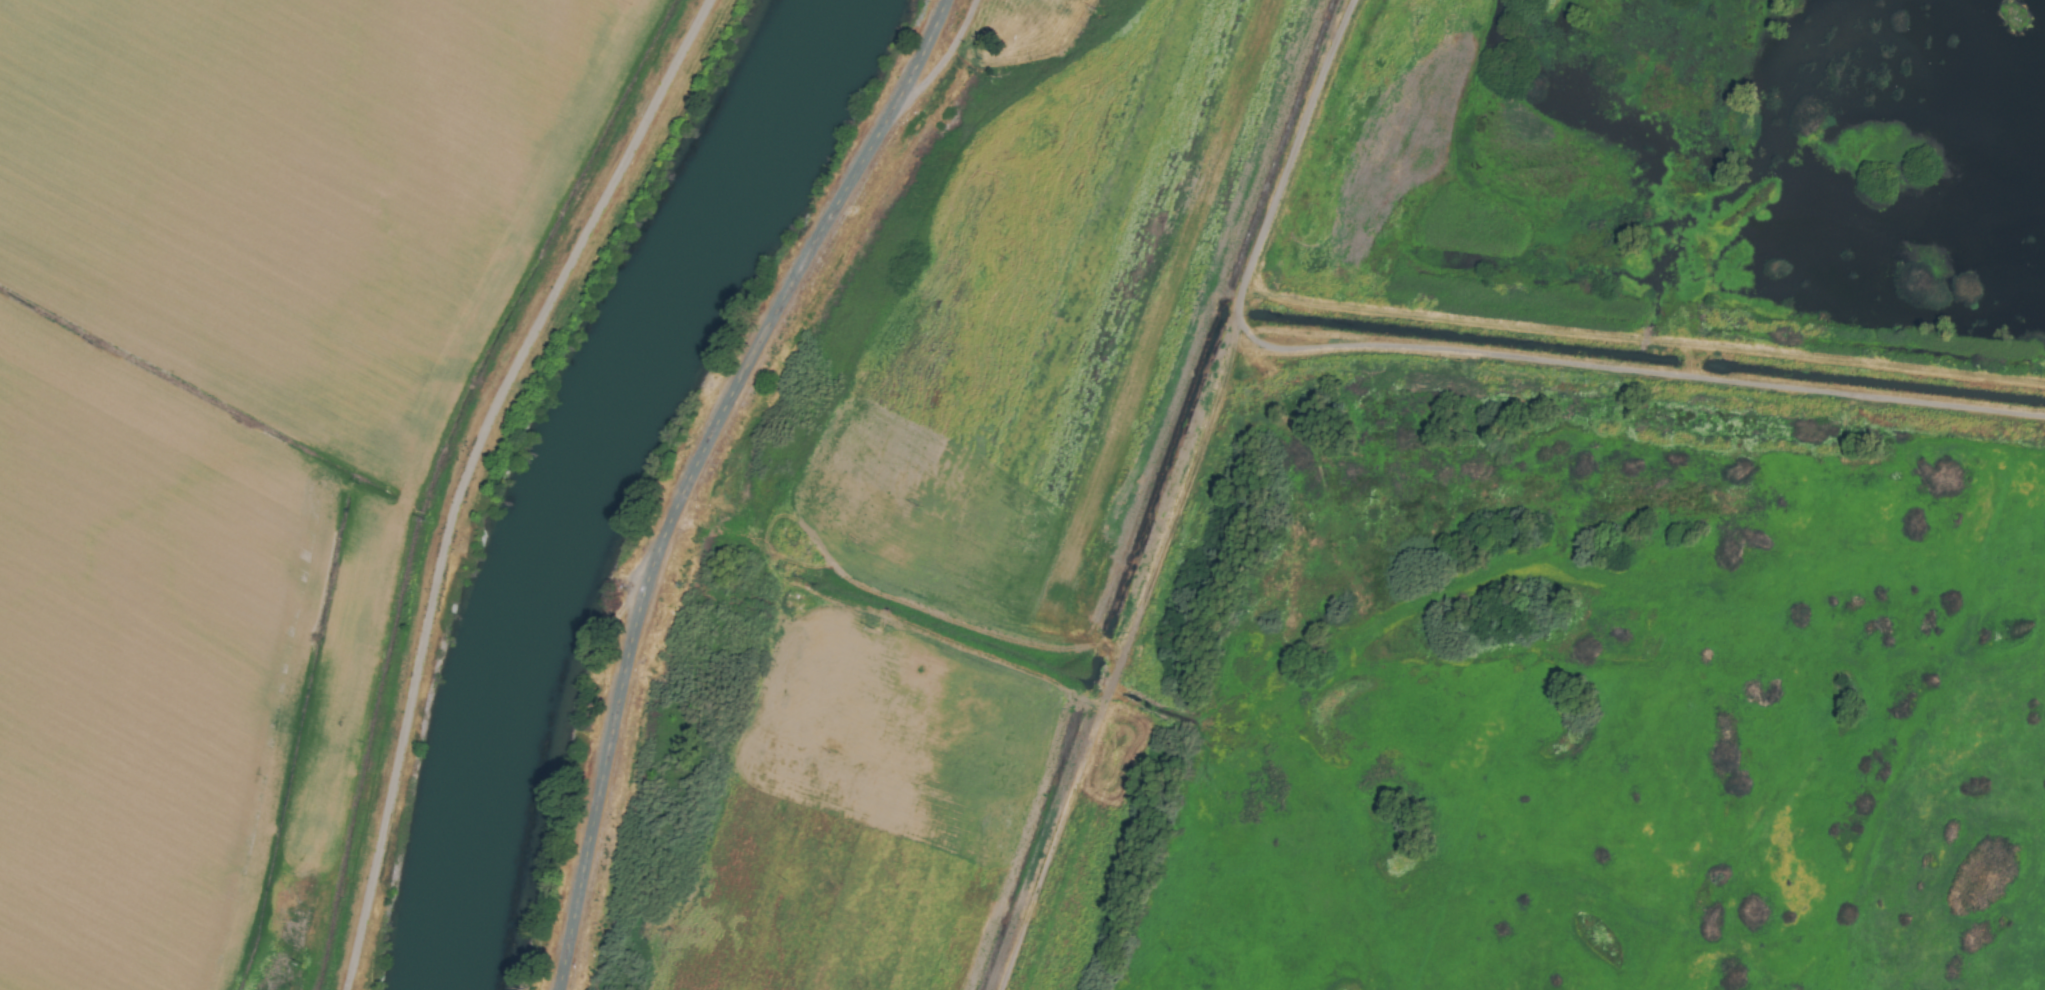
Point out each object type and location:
road: (943, 58)
crop: (258, 425)
road: (692, 472)
road: (465, 473)
crop: (923, 511)

